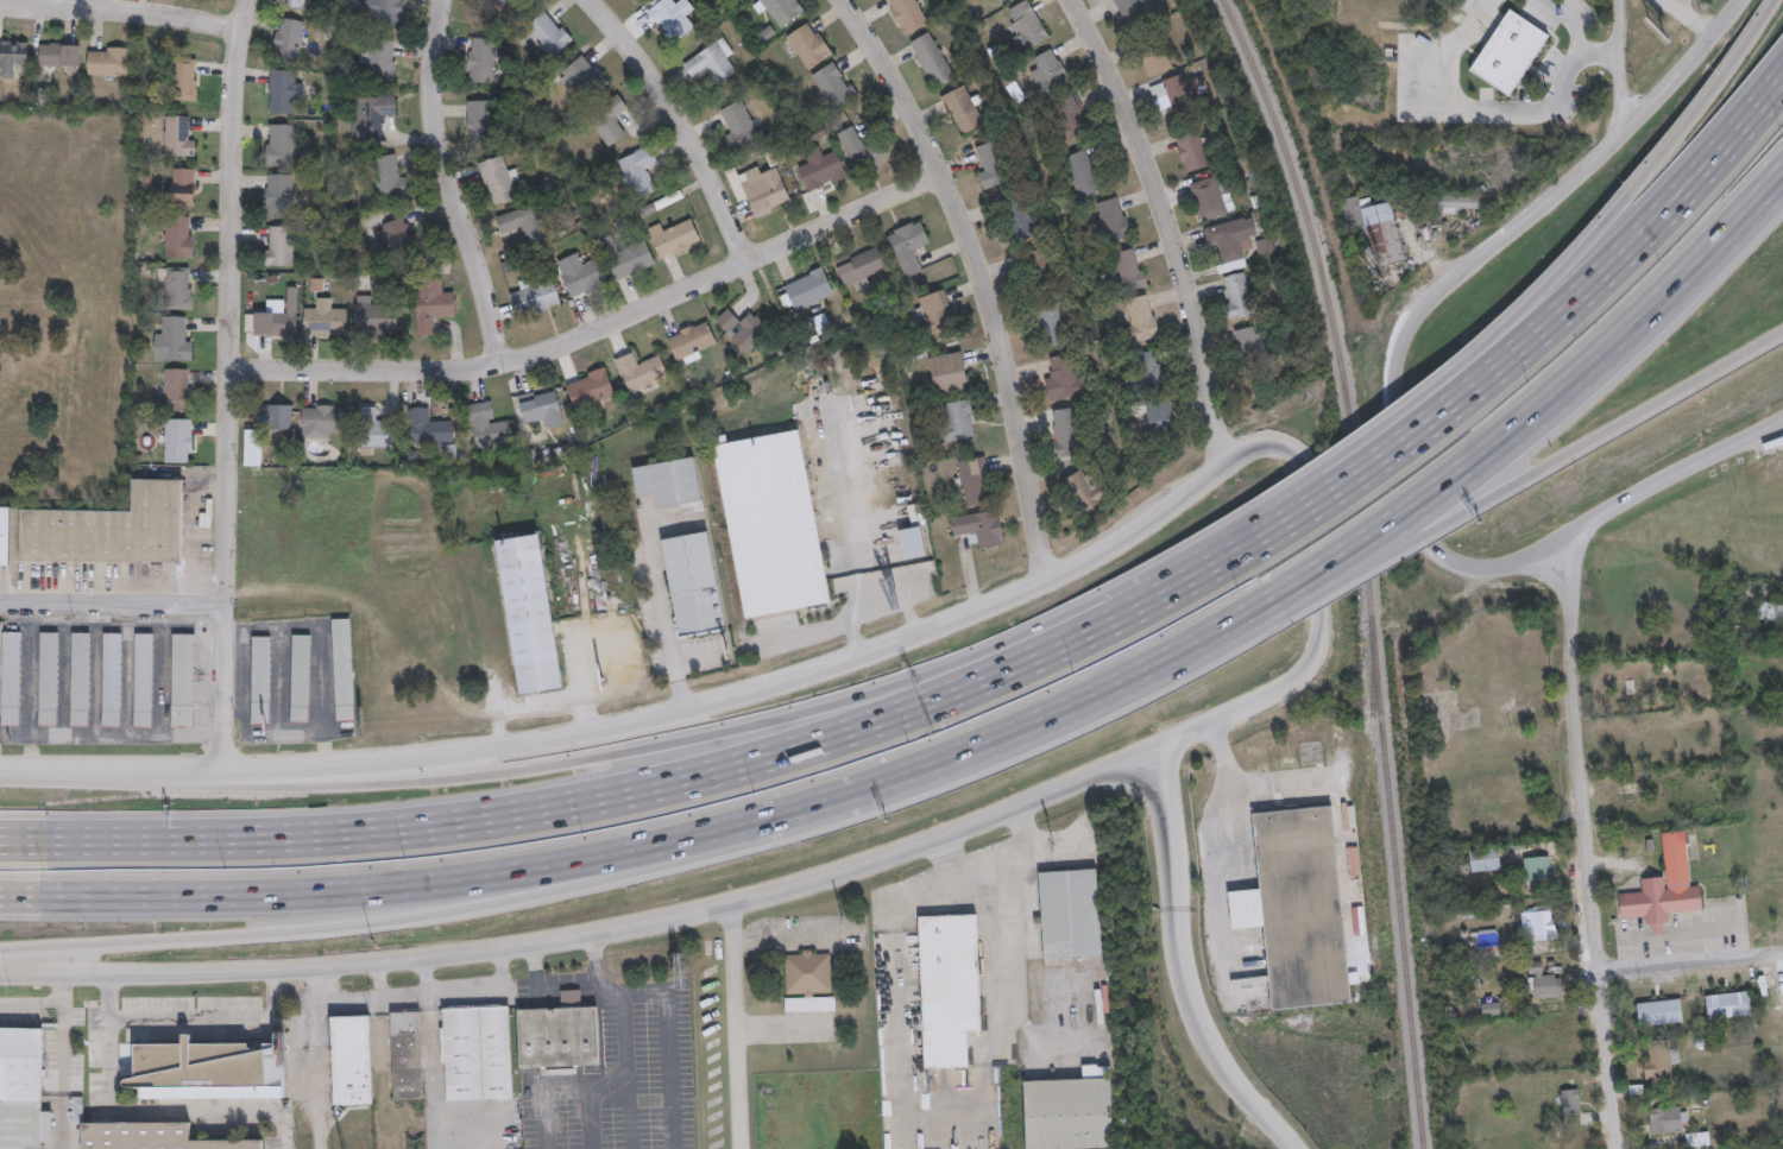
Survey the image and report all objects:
building: (1001, 1)
road: (1670, 2)
building: (295, 4)
road: (58, 6)
building: (1134, 8)
building: (782, 10)
building: (384, 11)
building: (908, 14)
road: (120, 15)
road: (1686, 15)
building: (672, 18)
building: (1027, 26)
building: (548, 33)
road: (1577, 38)
building: (289, 40)
building: (809, 45)
building: (1508, 51)
building: (61, 53)
building: (12, 57)
building: (932, 58)
building: (379, 59)
building: (481, 59)
building: (108, 61)
building: (1157, 61)
building: (712, 63)
road: (1621, 65)
building: (1050, 71)
building: (585, 76)
building: (185, 78)
building: (834, 84)
building: (283, 90)
building: (1174, 94)
road: (1473, 102)
building: (962, 109)
building: (371, 115)
building: (1071, 118)
building: (610, 120)
building: (480, 121)
road: (685, 121)
building: (738, 124)
building: (178, 135)
building: (281, 144)
building: (862, 149)
building: (1192, 150)
building: (988, 164)
building: (821, 169)
building: (637, 171)
building: (1083, 172)
road: (1577, 172)
building: (390, 176)
building: (498, 178)
building: (182, 185)
road: (447, 187)
building: (764, 189)
road: (1681, 194)
building: (278, 195)
road: (1625, 196)
building: (1210, 197)
building: (1457, 203)
building: (1114, 219)
building: (1021, 220)
building: (524, 222)
road: (1167, 226)
building: (1373, 229)
building: (179, 236)
building: (398, 238)
building: (675, 238)
building: (1231, 241)
building: (279, 245)
building: (909, 247)
road: (1425, 255)
building: (626, 257)
building: (1040, 264)
building: (861, 265)
building: (1128, 270)
road: (982, 276)
building: (584, 278)
building: (179, 288)
building: (809, 290)
building: (537, 296)
building: (1239, 297)
building: (433, 304)
building: (935, 309)
building: (279, 315)
building: (373, 316)
building: (325, 320)
building: (1051, 323)
building: (743, 328)
road: (1632, 328)
road: (598, 333)
building: (174, 337)
building: (692, 341)
building: (1253, 345)
road: (1513, 353)
building: (641, 371)
building: (1147, 371)
building: (950, 373)
building: (1064, 377)
road: (232, 384)
building: (177, 389)
building: (591, 389)
building: (542, 406)
building: (278, 416)
building: (1163, 417)
road: (1628, 418)
building: (959, 419)
building: (323, 421)
building: (490, 425)
building: (429, 429)
building: (374, 430)
building: (1066, 433)
building: (178, 440)
road: (1352, 446)
road: (1359, 472)
road: (1664, 475)
building: (668, 481)
building: (975, 481)
building: (1086, 487)
road: (1409, 503)
building: (771, 523)
building: (111, 528)
building: (979, 528)
road: (1313, 531)
building: (5, 535)
road: (1367, 538)
road: (1248, 541)
road: (1248, 544)
road: (1229, 555)
road: (1368, 563)
railway: (1367, 564)
building: (693, 582)
road: (113, 604)
road: (875, 605)
building: (1770, 610)
building: (529, 613)
road: (666, 613)
road: (1249, 614)
building: (342, 668)
building: (11, 677)
building: (301, 677)
building: (49, 678)
building: (80, 678)
building: (112, 678)
building: (143, 678)
building: (260, 678)
building: (183, 680)
building: (1625, 680)
road: (1152, 681)
road: (638, 720)
road: (993, 741)
road: (625, 751)
road: (632, 790)
road: (1353, 807)
road: (1583, 842)
road: (1229, 850)
road: (989, 858)
building: (1485, 859)
building: (1537, 867)
building: (1664, 886)
road: (371, 888)
building: (1298, 905)
building: (1071, 913)
road: (663, 917)
road: (374, 922)
building: (1538, 922)
road: (793, 939)
building: (1486, 942)
road: (1690, 961)
road: (1183, 964)
building: (807, 972)
building: (1543, 981)
road: (544, 986)
building: (949, 986)
road: (64, 987)
building: (809, 1003)
road: (32, 1004)
building: (1728, 1004)
road: (620, 1008)
building: (1659, 1011)
road: (213, 1016)
road: (735, 1024)
building: (559, 1033)
road: (429, 1052)
building: (477, 1052)
building: (407, 1054)
road: (315, 1056)
building: (352, 1059)
building: (1658, 1062)
building: (209, 1069)
road: (64, 1077)
building: (21, 1088)
road: (542, 1088)
building: (1570, 1100)
road: (144, 1111)
building: (1070, 1111)
road: (588, 1115)
road: (950, 1119)
building: (1665, 1119)
building: (152, 1136)

